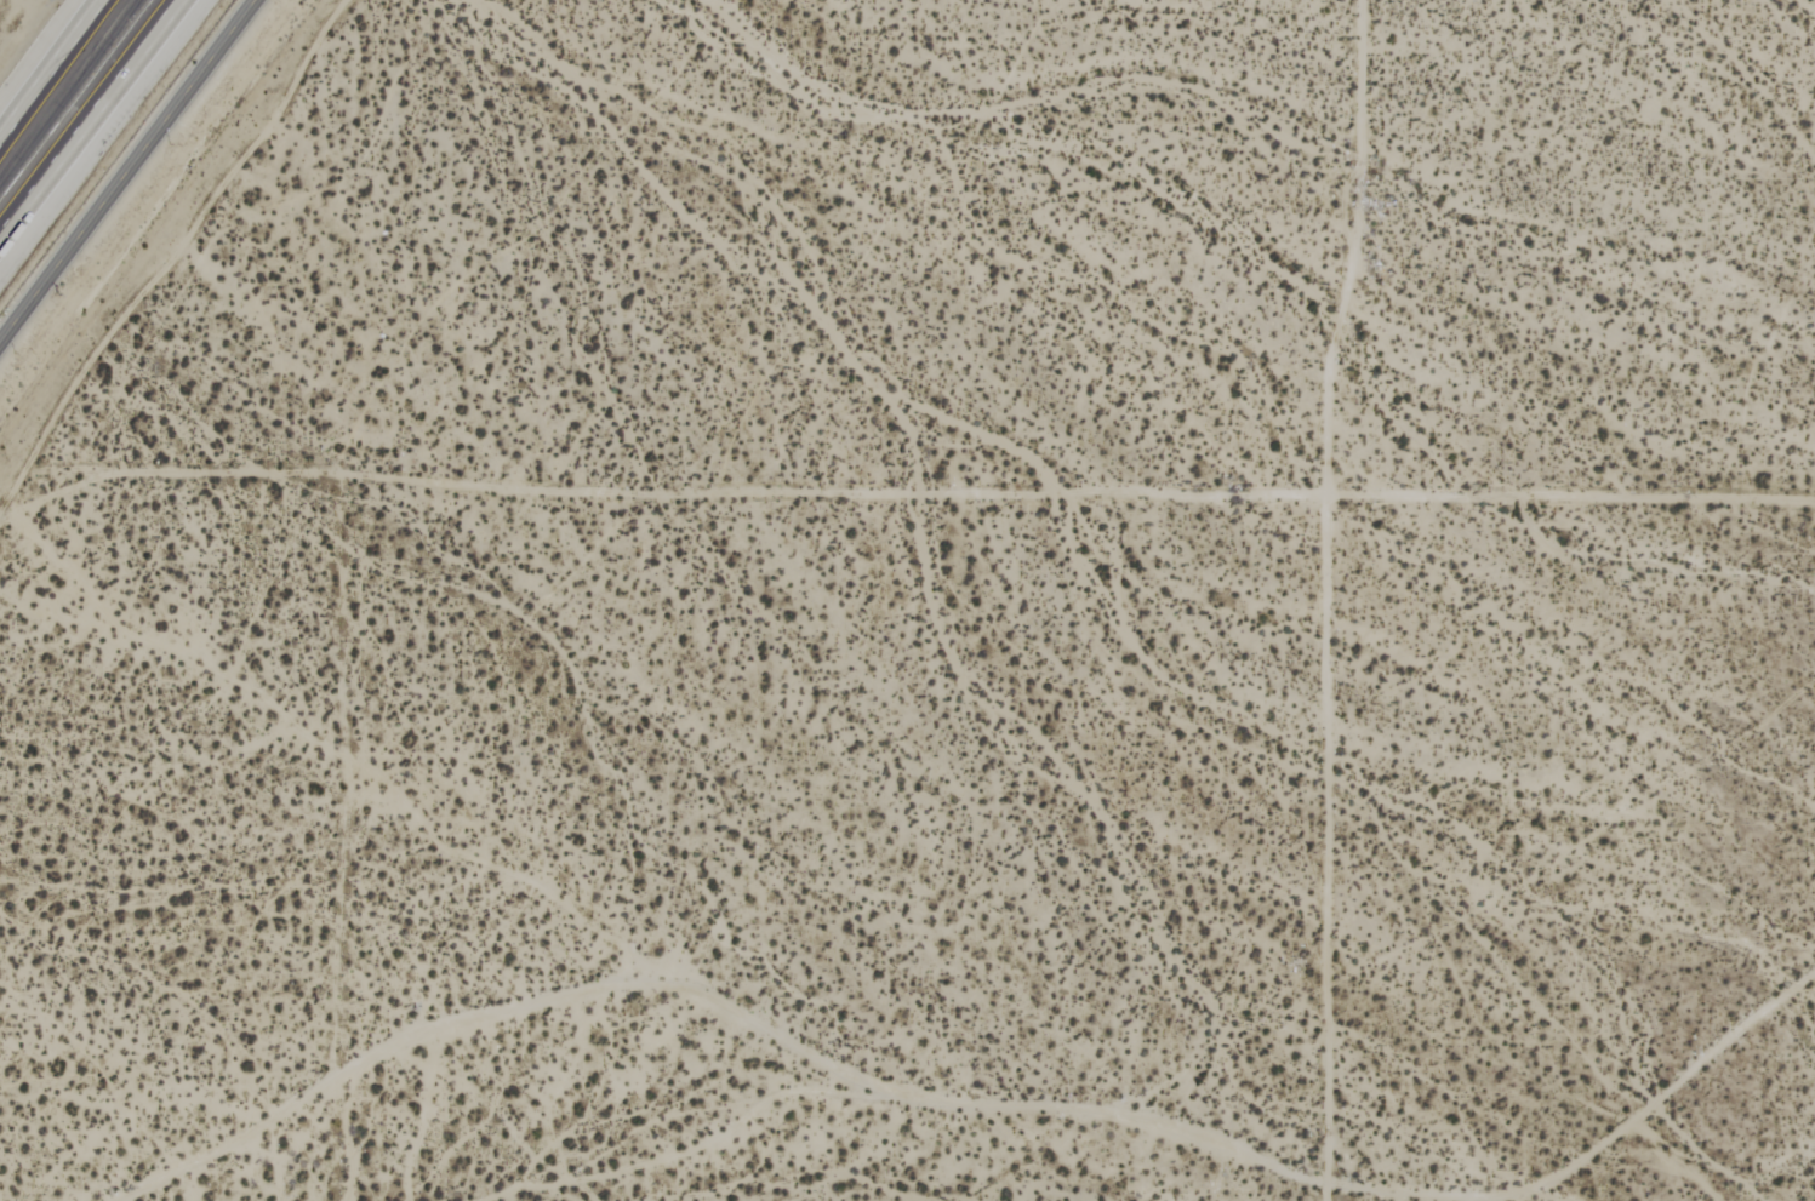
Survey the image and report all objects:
road: (55, 74)
railway: (70, 96)
road: (84, 111)
road: (125, 167)
road: (919, 493)
road: (1325, 599)

